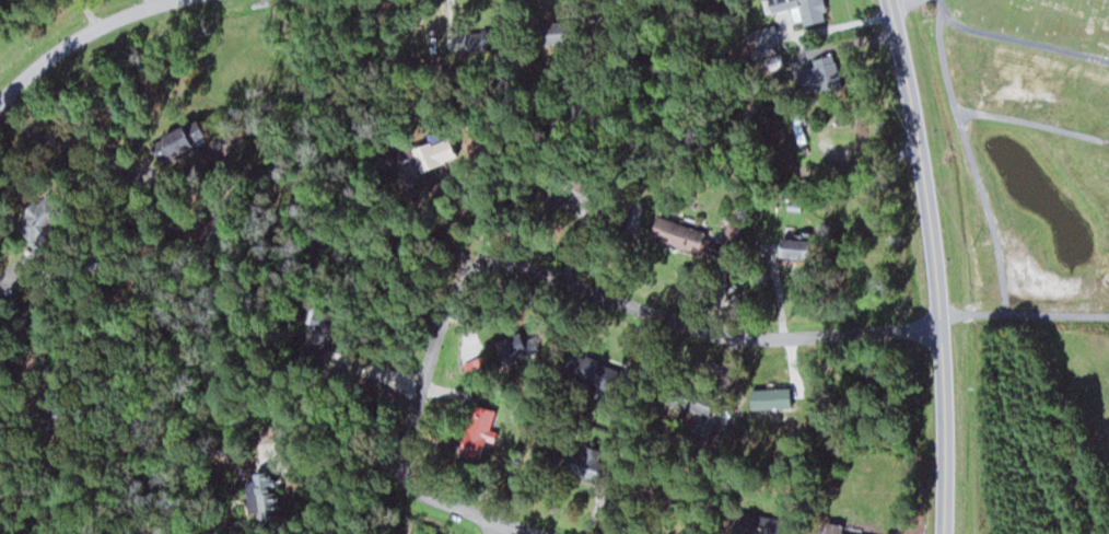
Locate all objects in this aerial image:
building: (799, 11)
park: (1027, 23)
building: (544, 34)
road: (80, 35)
road: (1019, 35)
building: (766, 37)
building: (810, 79)
building: (799, 128)
building: (172, 140)
building: (418, 152)
road: (25, 173)
building: (32, 222)
building: (681, 235)
building: (792, 247)
road: (931, 265)
road: (558, 269)
building: (507, 349)
building: (584, 369)
building: (478, 431)
building: (574, 462)
building: (651, 494)
building: (756, 524)
building: (833, 529)

